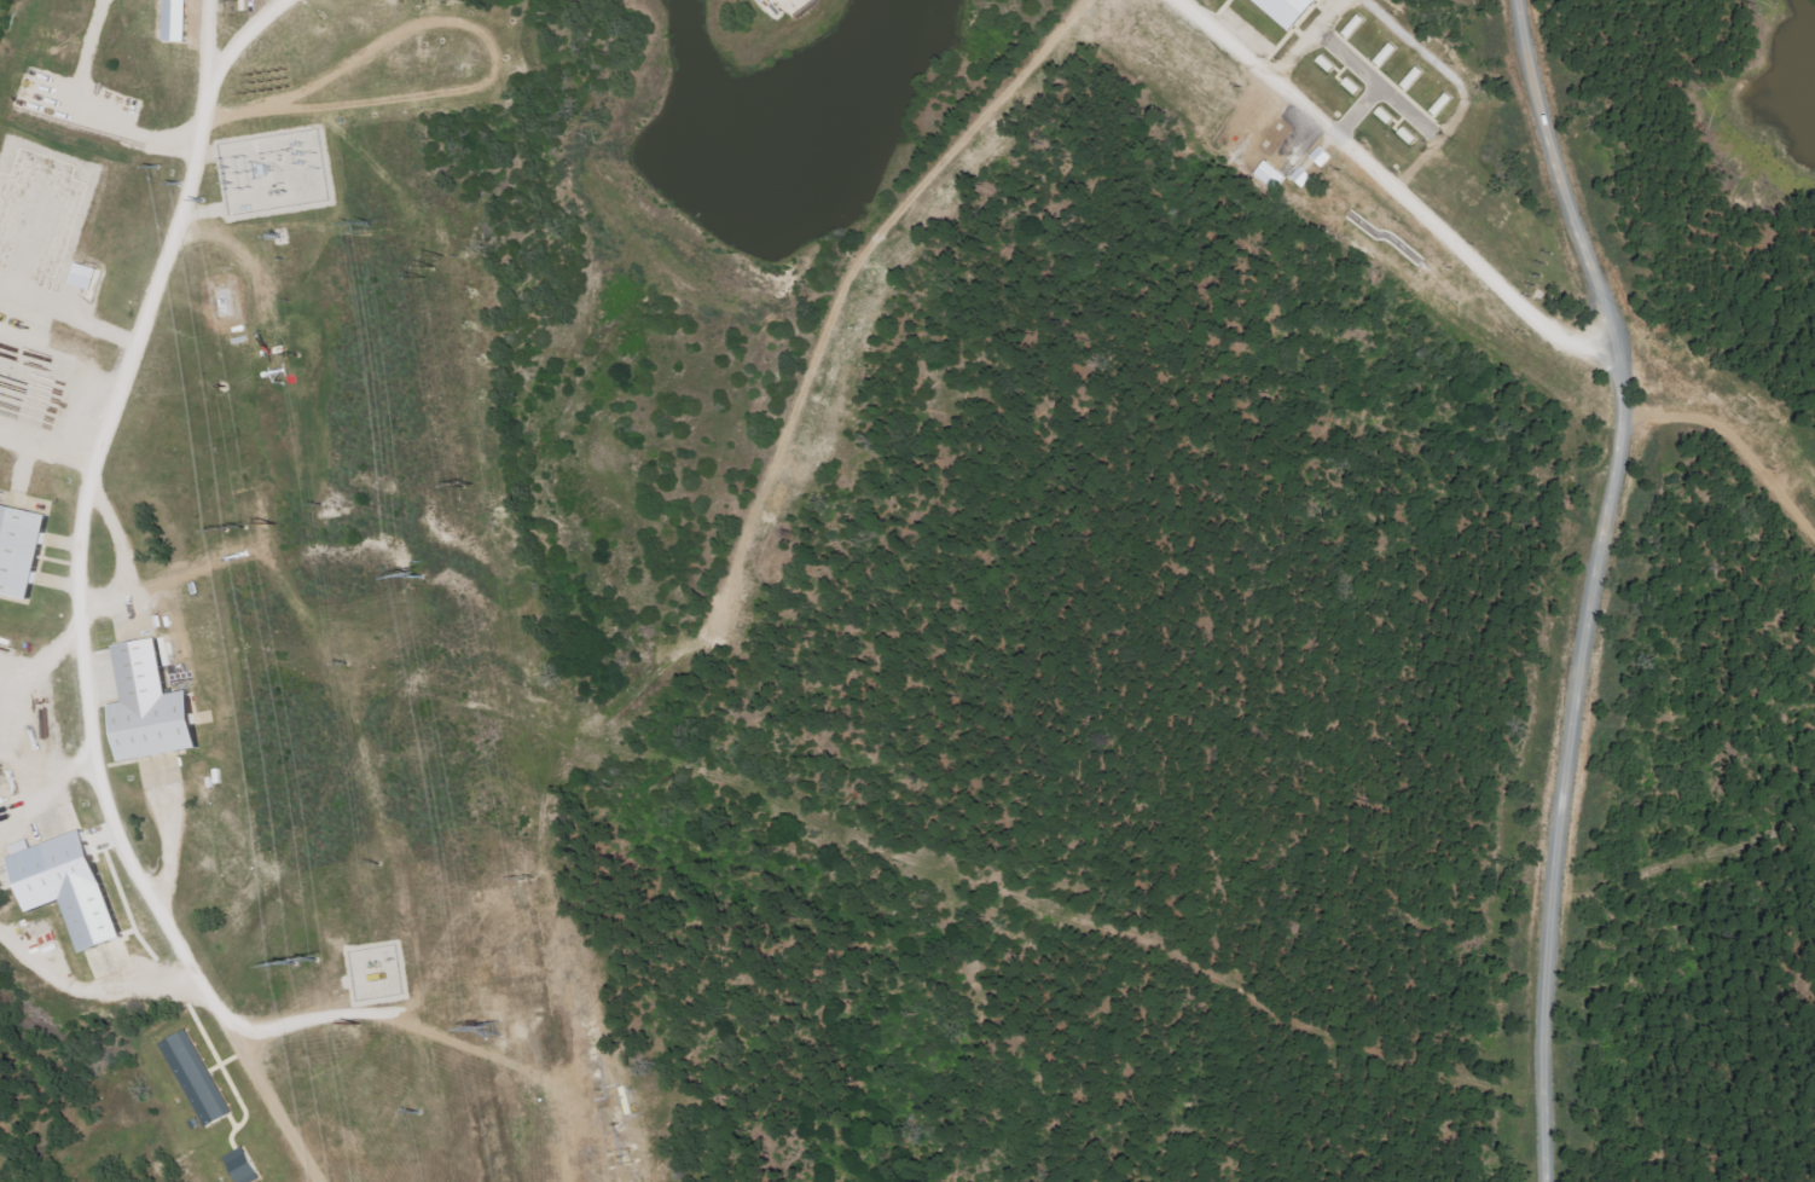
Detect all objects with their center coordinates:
building: (1289, 10)
road: (205, 42)
power substation: (272, 172)
building: (1275, 175)
building: (1305, 176)
road: (1390, 185)
building: (87, 277)
building: (22, 550)
road: (1596, 584)
road: (74, 597)
building: (156, 706)
building: (73, 886)
building: (199, 1078)
building: (245, 1166)

